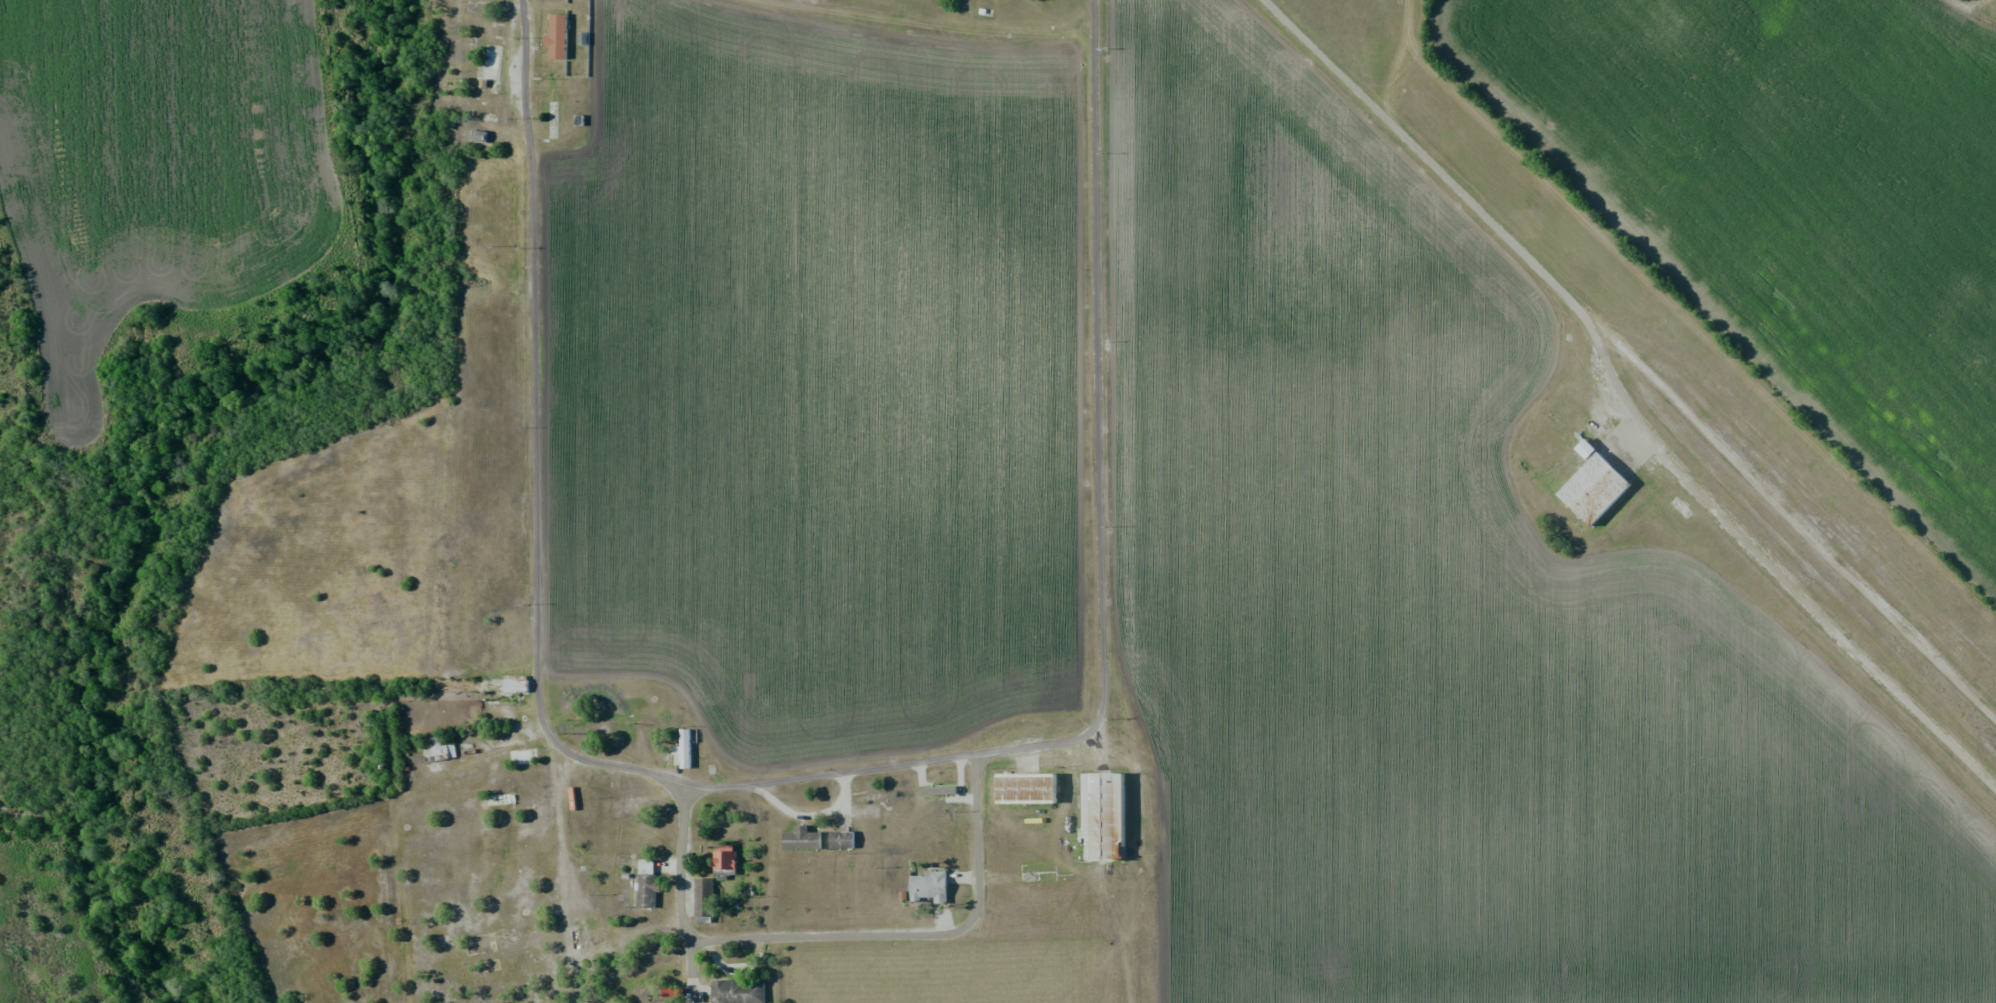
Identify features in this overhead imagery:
road: (1967, 6)
building: (559, 35)
road: (1431, 163)
road: (1100, 425)
building: (1593, 488)
road: (539, 588)
airport runway: (1829, 612)
building: (517, 684)
building: (440, 747)
building: (684, 750)
building: (1028, 788)
building: (613, 791)
building: (942, 792)
building: (875, 798)
building: (1105, 817)
building: (826, 838)
building: (726, 860)
building: (930, 886)
building: (648, 891)
building: (704, 898)
road: (840, 934)
building: (738, 991)

